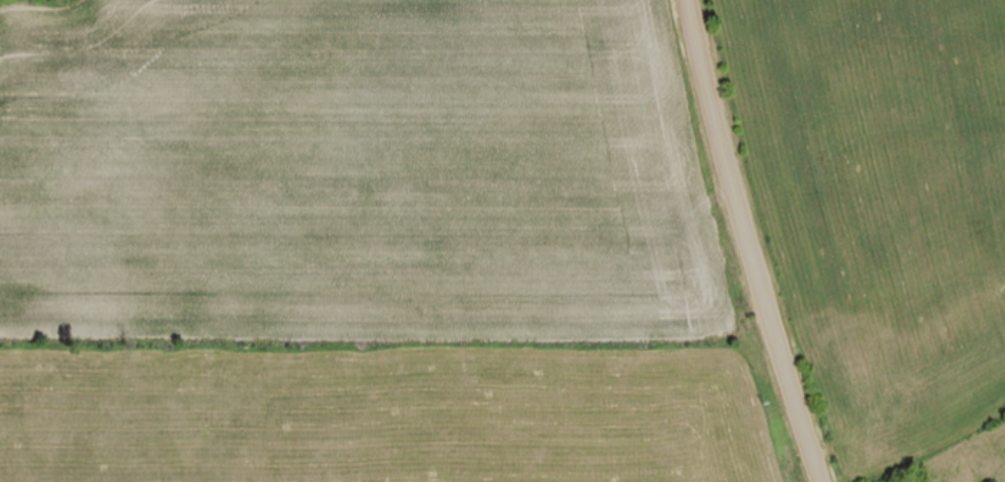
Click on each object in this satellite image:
road: (751, 242)

